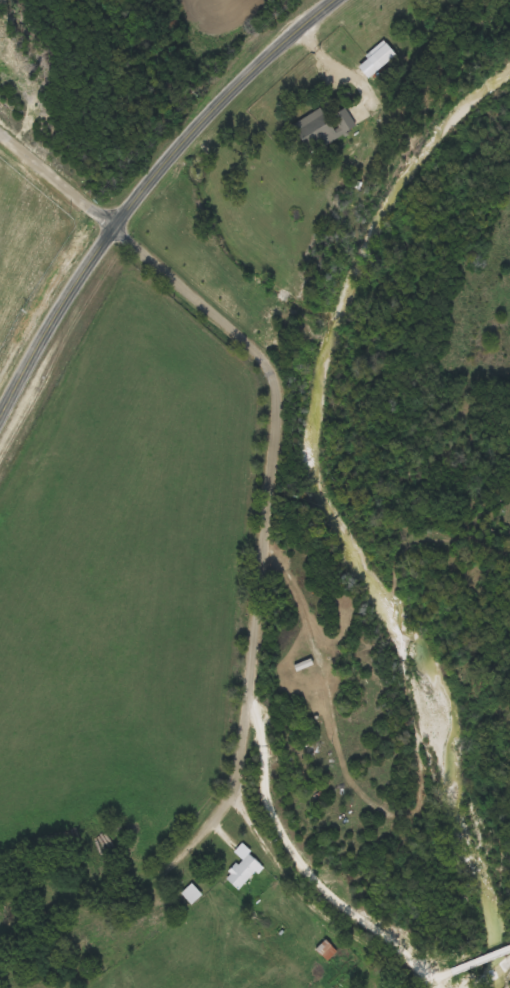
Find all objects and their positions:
building: (321, 129)
road: (57, 178)
road: (144, 189)
road: (271, 527)
building: (315, 692)
building: (244, 871)
road: (317, 909)
building: (327, 949)
road: (473, 965)

